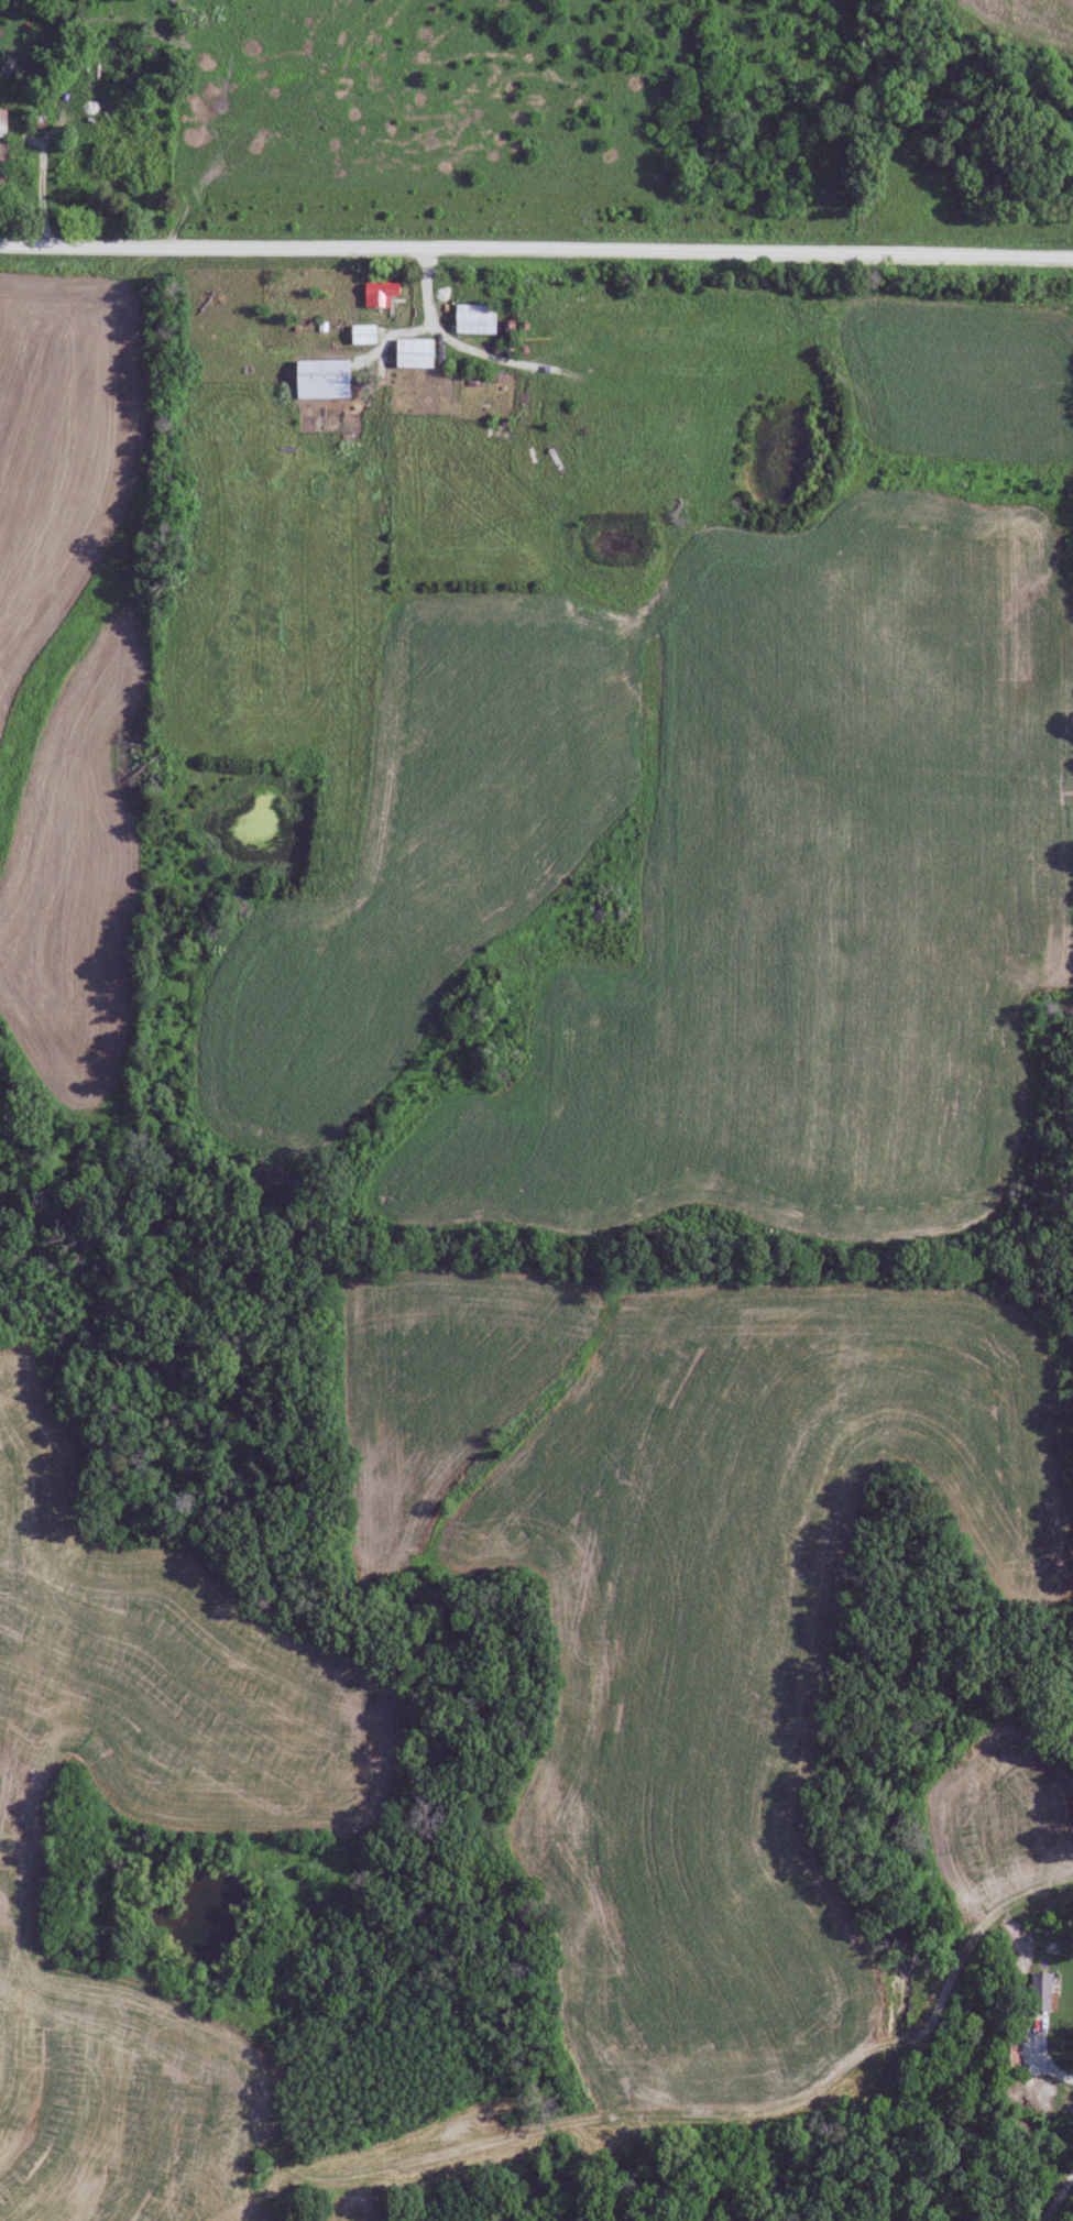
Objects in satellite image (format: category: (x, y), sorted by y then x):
building: (3, 120)
building: (112, 166)
road: (536, 249)
building: (380, 292)
building: (475, 317)
building: (363, 332)
building: (415, 351)
building: (322, 378)
building: (1041, 1991)
road: (1038, 2056)
road: (1053, 2195)

